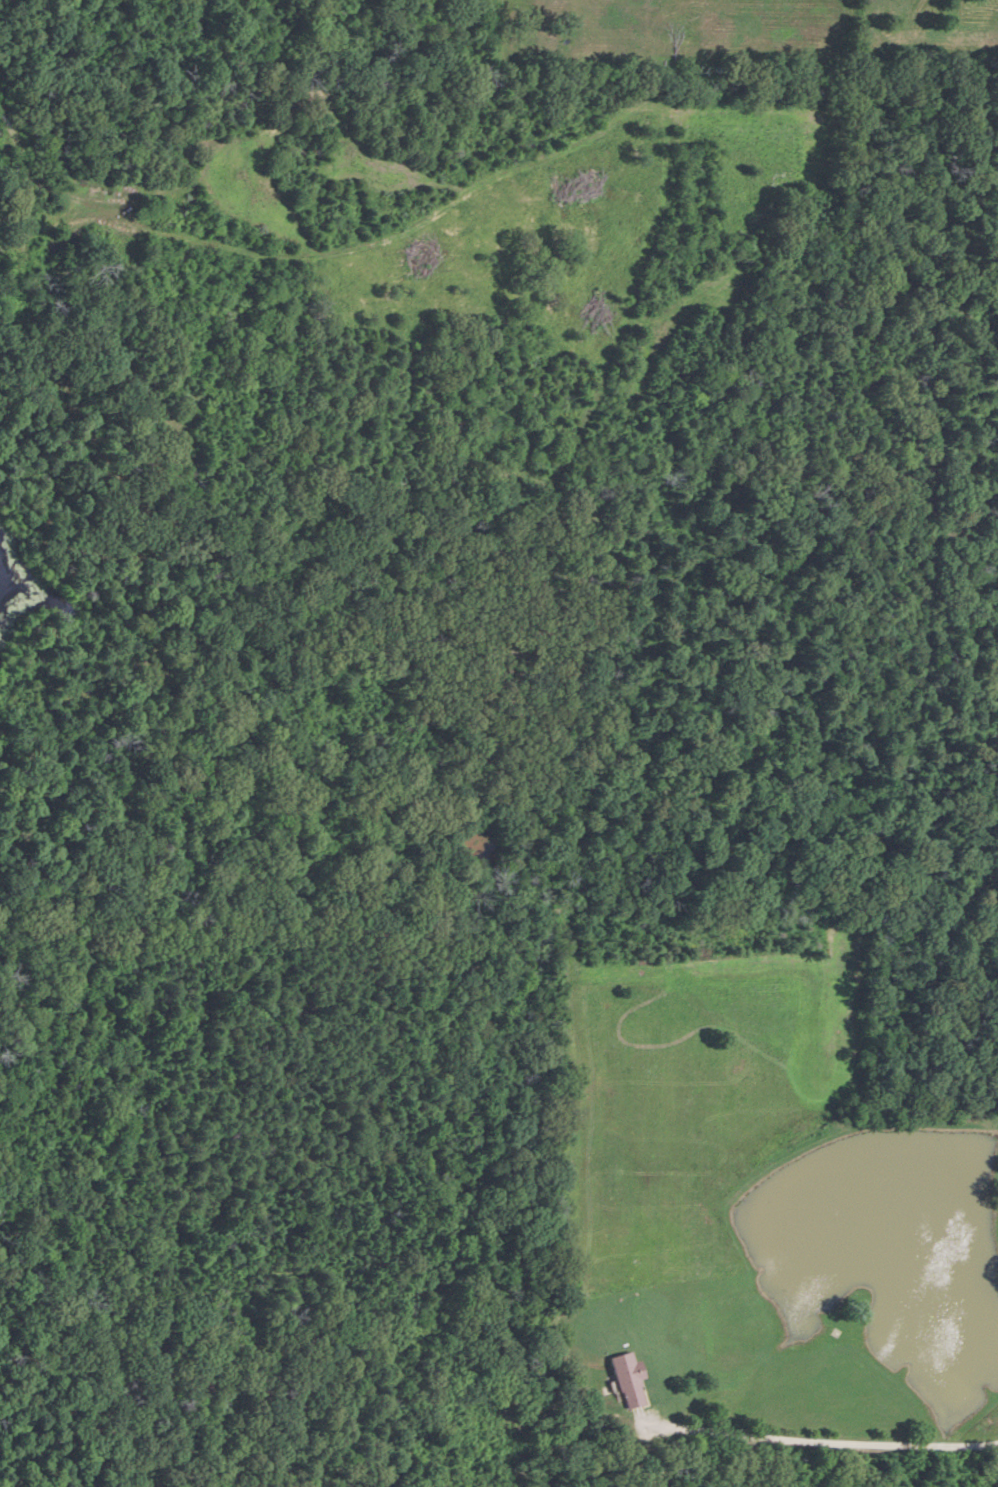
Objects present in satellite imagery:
building: (627, 1380)
road: (822, 1442)

